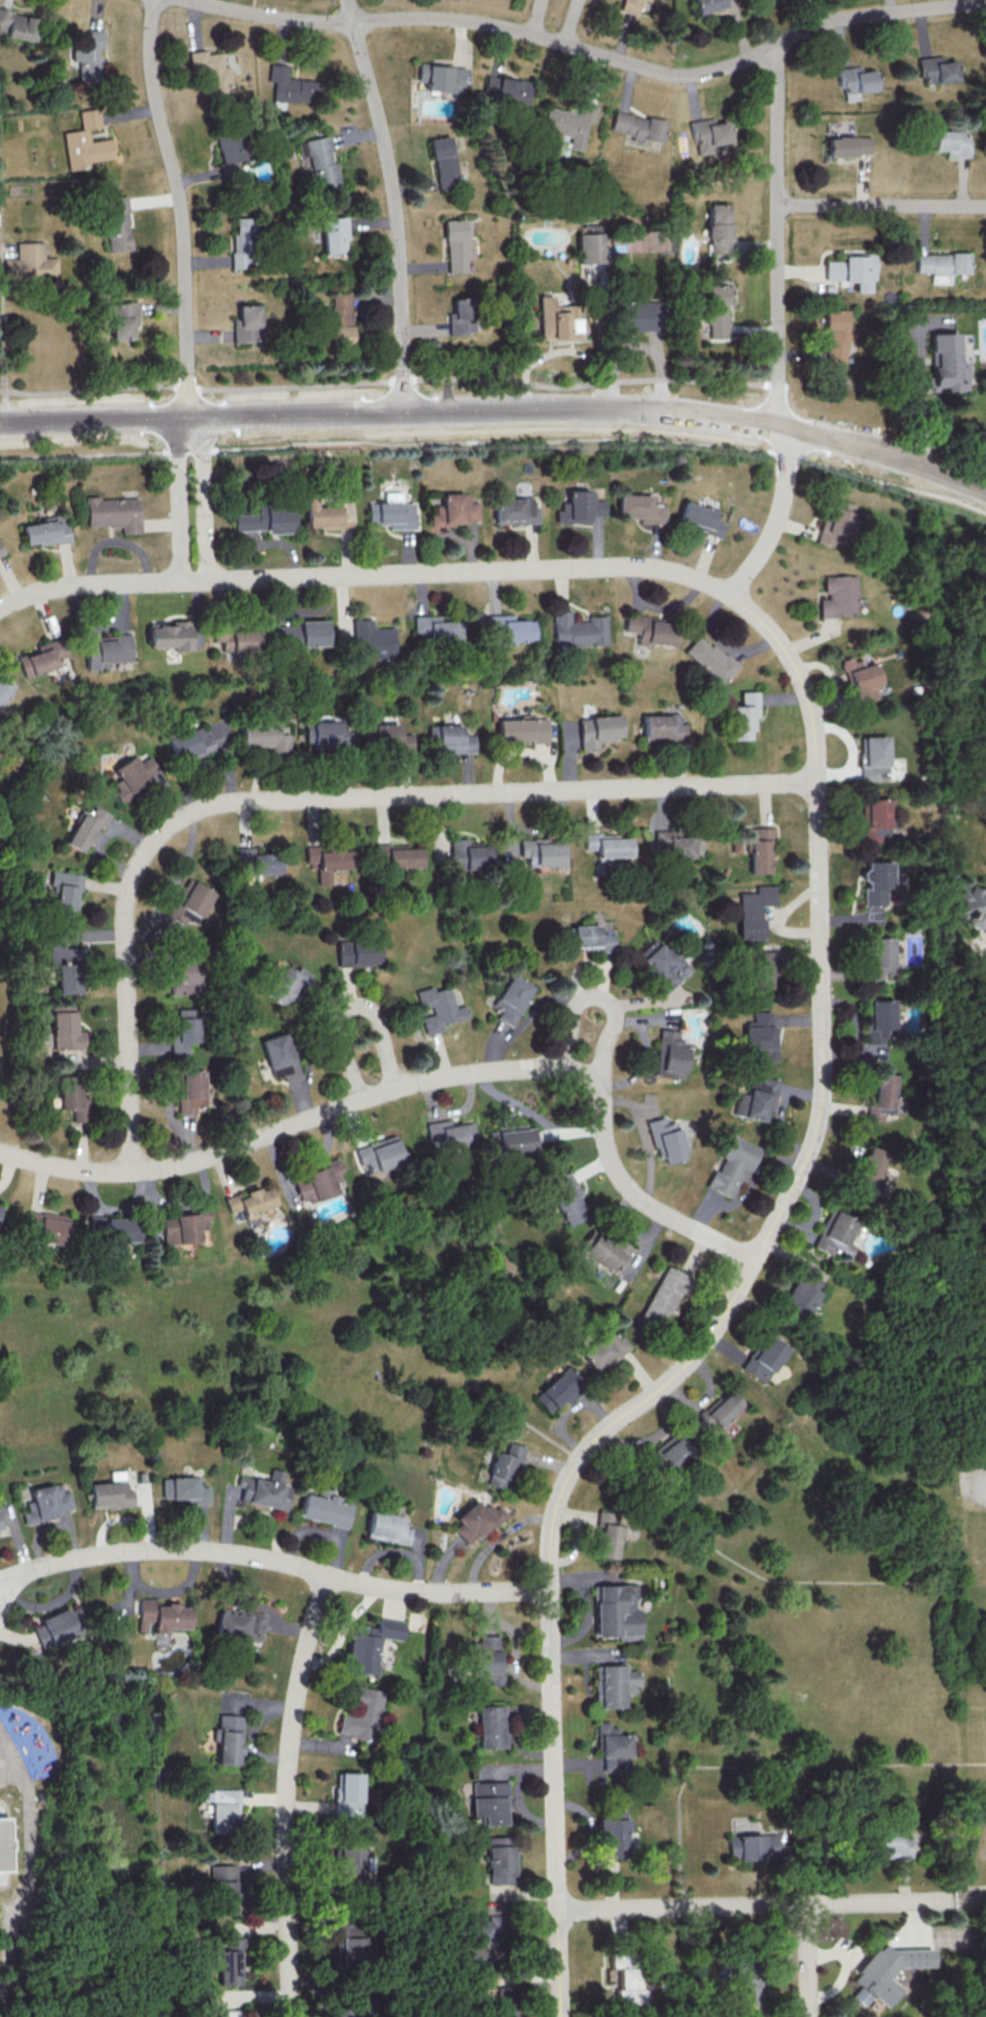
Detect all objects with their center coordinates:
building: (629, 5)
building: (707, 5)
road: (533, 17)
road: (570, 23)
building: (16, 25)
road: (592, 54)
building: (88, 56)
building: (936, 70)
building: (211, 76)
building: (440, 77)
building: (854, 81)
building: (290, 86)
building: (504, 90)
building: (568, 123)
building: (637, 127)
building: (708, 134)
building: (86, 142)
building: (951, 142)
building: (848, 146)
building: (229, 151)
building: (319, 160)
building: (442, 163)
road: (393, 203)
road: (882, 205)
road: (180, 206)
building: (116, 224)
building: (717, 228)
building: (333, 235)
road: (778, 235)
building: (242, 243)
building: (454, 245)
building: (588, 248)
building: (29, 263)
building: (941, 265)
building: (851, 271)
building: (717, 312)
building: (458, 317)
building: (340, 318)
building: (552, 318)
building: (121, 319)
building: (246, 324)
building: (836, 335)
road: (5, 350)
building: (945, 363)
road: (388, 379)
road: (921, 398)
road: (389, 411)
road: (603, 439)
road: (883, 452)
road: (106, 454)
road: (203, 497)
road: (178, 498)
building: (579, 507)
building: (640, 508)
building: (454, 510)
building: (516, 510)
building: (392, 512)
building: (114, 513)
building: (327, 514)
road: (777, 514)
building: (699, 518)
building: (266, 520)
building: (834, 522)
building: (46, 530)
building: (1, 550)
road: (88, 583)
building: (837, 596)
building: (437, 628)
building: (509, 629)
building: (577, 629)
building: (649, 629)
building: (312, 632)
building: (286, 636)
building: (169, 637)
building: (237, 639)
building: (372, 640)
building: (105, 649)
building: (42, 657)
building: (709, 658)
building: (861, 680)
building: (5, 686)
building: (743, 715)
building: (661, 727)
building: (521, 730)
building: (597, 730)
building: (326, 734)
building: (263, 737)
building: (389, 738)
building: (449, 738)
building: (873, 758)
building: (126, 778)
road: (309, 797)
building: (876, 822)
building: (86, 828)
building: (676, 843)
building: (607, 845)
building: (759, 850)
building: (541, 851)
building: (470, 855)
building: (327, 860)
building: (255, 861)
building: (876, 886)
building: (65, 892)
building: (189, 902)
building: (970, 906)
building: (752, 910)
building: (588, 938)
building: (358, 953)
building: (879, 957)
building: (659, 964)
building: (66, 967)
building: (761, 981)
building: (286, 983)
building: (511, 999)
road: (600, 1000)
building: (437, 1008)
road: (349, 1010)
building: (881, 1014)
building: (65, 1028)
building: (184, 1030)
building: (760, 1034)
building: (670, 1055)
building: (279, 1056)
road: (821, 1059)
road: (420, 1081)
building: (190, 1091)
building: (881, 1096)
building: (755, 1099)
building: (71, 1101)
building: (449, 1133)
building: (666, 1140)
building: (512, 1141)
building: (379, 1153)
building: (731, 1167)
building: (869, 1172)
building: (318, 1182)
building: (568, 1199)
building: (250, 1201)
building: (183, 1226)
building: (47, 1227)
building: (113, 1228)
building: (835, 1234)
building: (606, 1251)
building: (800, 1294)
building: (662, 1298)
building: (604, 1349)
building: (763, 1358)
building: (558, 1389)
building: (719, 1410)
building: (668, 1453)
building: (504, 1467)
building: (185, 1490)
building: (267, 1490)
building: (111, 1492)
building: (45, 1503)
building: (325, 1507)
park: (976, 1512)
building: (475, 1521)
building: (388, 1524)
building: (0, 1529)
building: (608, 1535)
road: (711, 1548)
road: (271, 1560)
park: (965, 1591)
building: (617, 1611)
building: (162, 1615)
building: (240, 1624)
building: (57, 1627)
building: (369, 1645)
building: (486, 1660)
building: (614, 1685)
building: (361, 1713)
building: (492, 1726)
building: (230, 1739)
building: (613, 1748)
road: (767, 1767)
road: (285, 1794)
building: (347, 1794)
building: (490, 1801)
building: (225, 1810)
building: (612, 1833)
building: (890, 1843)
building: (4, 1846)
building: (752, 1847)
road: (30, 1858)
building: (501, 1860)
building: (350, 1862)
road: (19, 1875)
road: (964, 1887)
building: (223, 1889)
road: (969, 1897)
road: (755, 1905)
building: (482, 1941)
building: (351, 1950)
road: (807, 1961)
building: (229, 1966)
building: (627, 1978)
building: (746, 1982)
road: (978, 1993)
building: (501, 2002)
building: (351, 2003)
building: (233, 2013)

